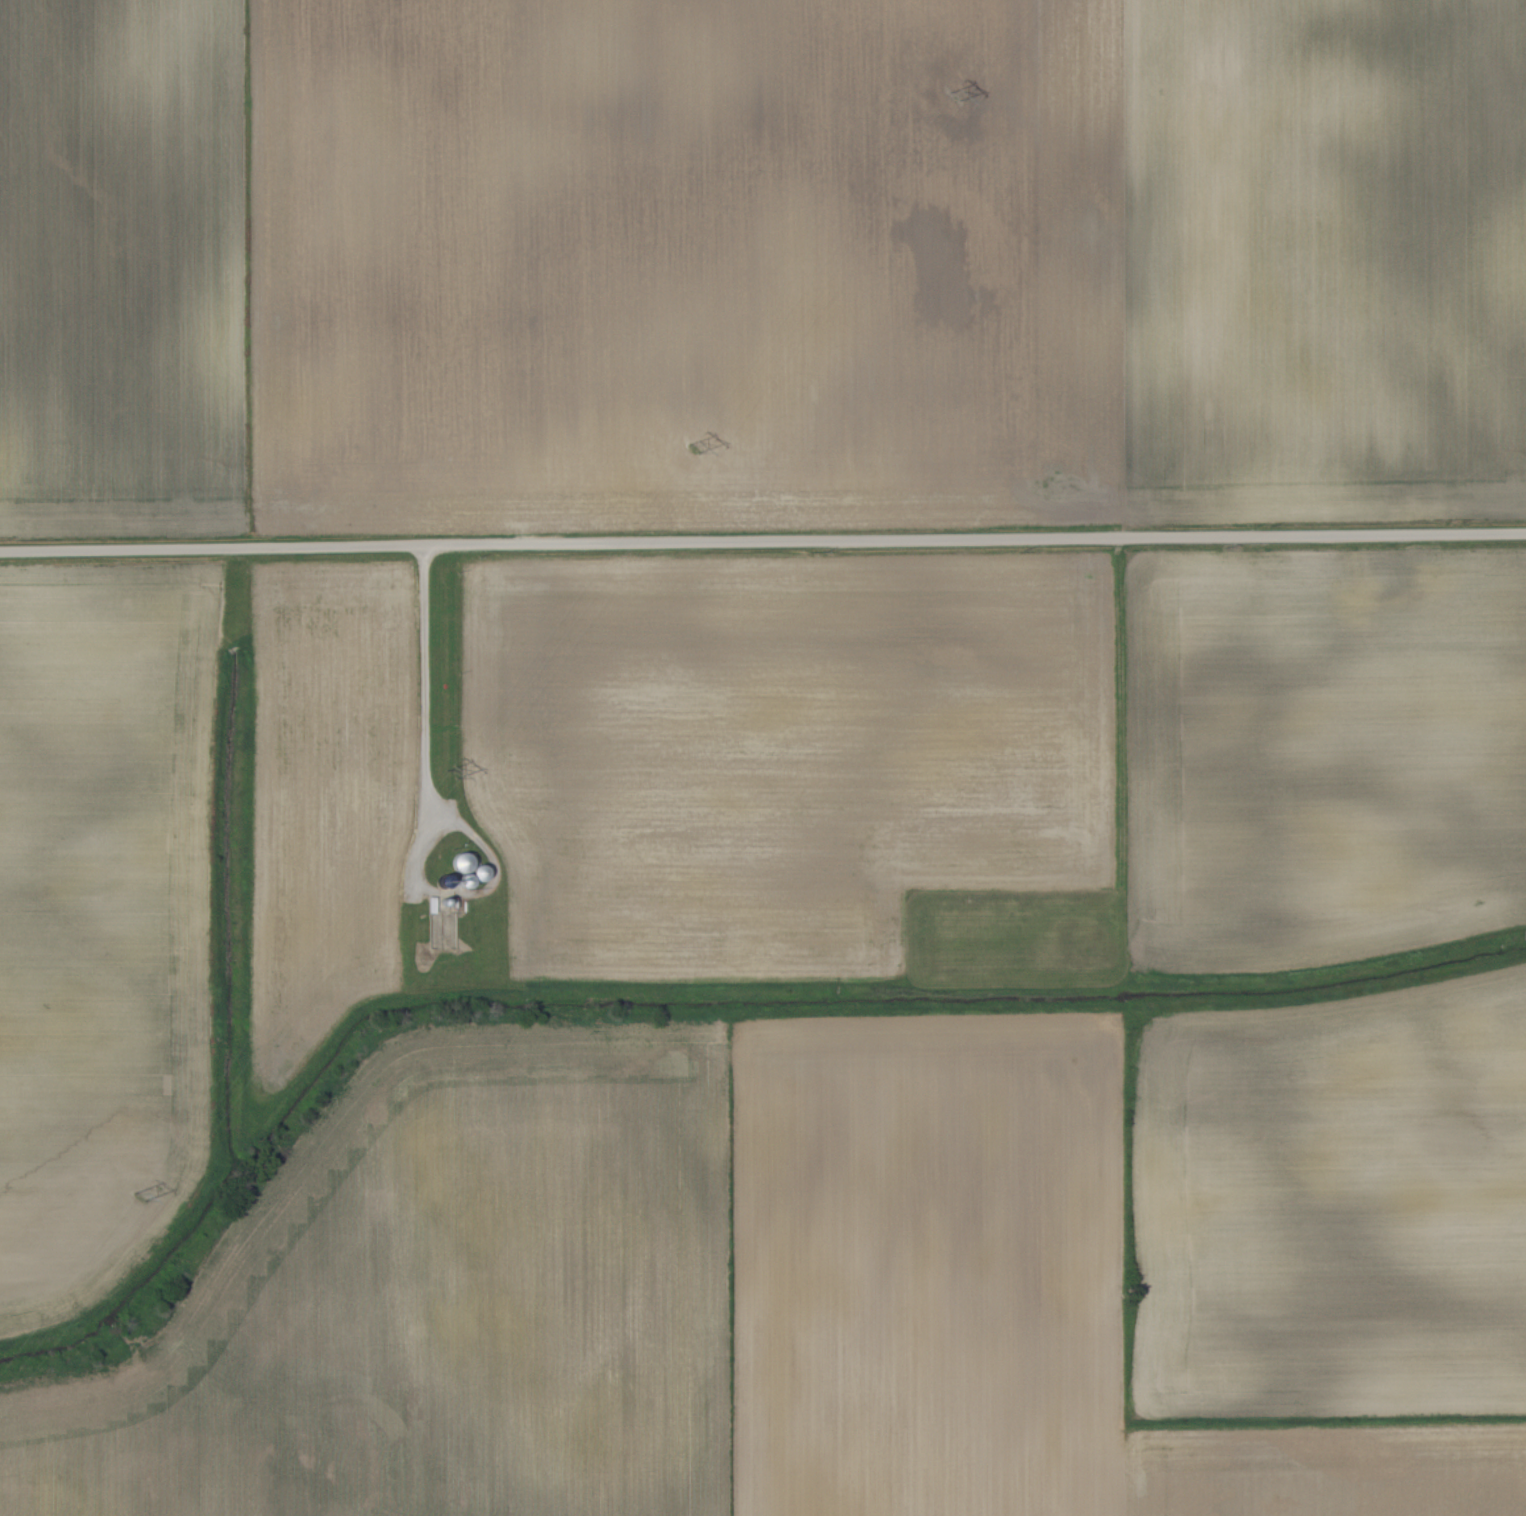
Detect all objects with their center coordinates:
power tower: (952, 94)
power tower: (693, 449)
road: (762, 541)
road: (422, 685)
power tower: (449, 774)
power tower: (141, 1198)

